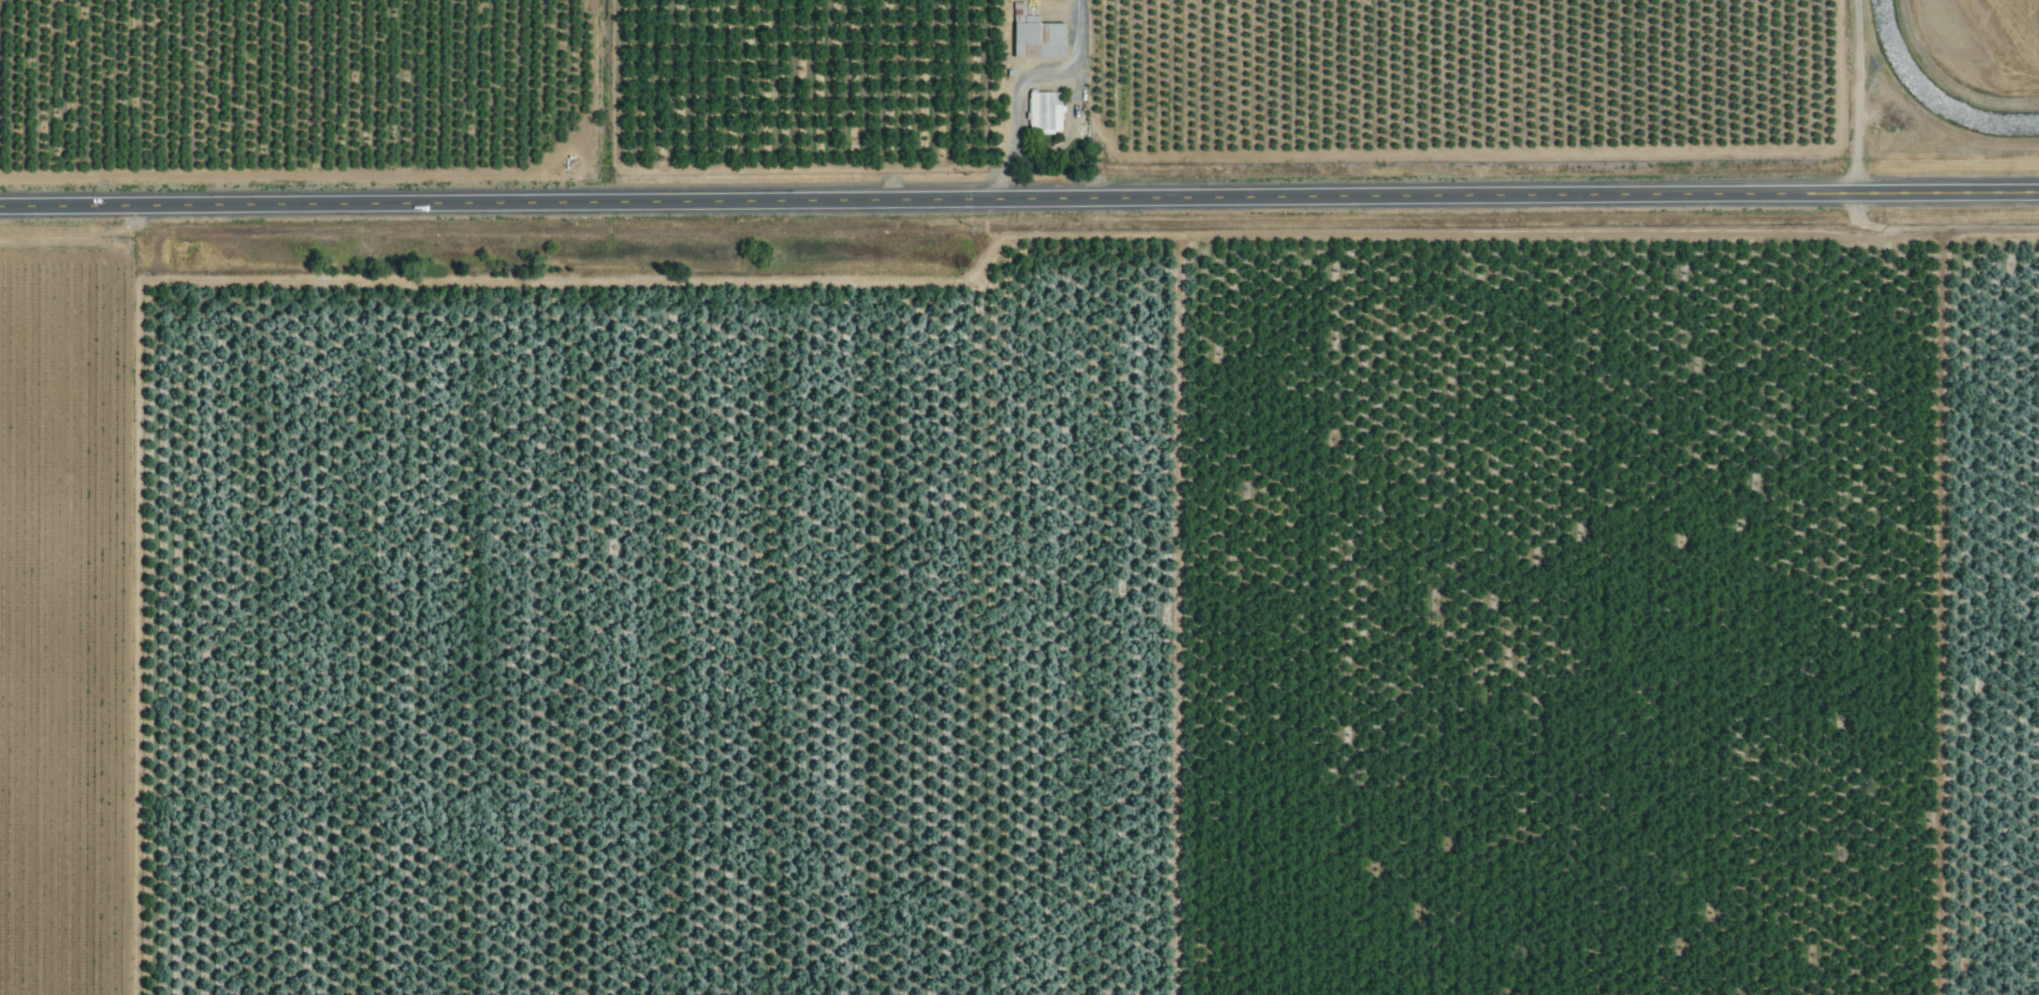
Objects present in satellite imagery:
building: (1034, 37)
road: (1022, 85)
building: (1042, 113)
road: (1068, 131)
road: (1019, 198)

